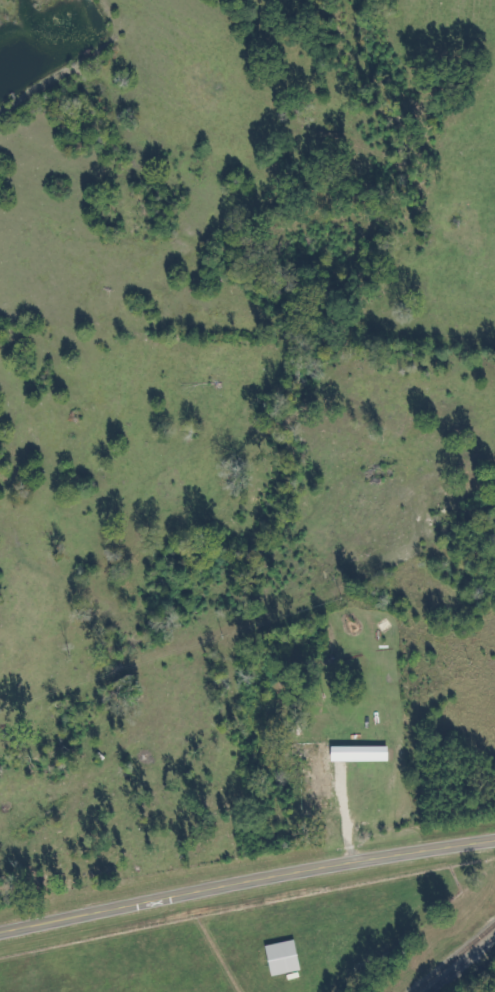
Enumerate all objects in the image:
building: (314, 775)
road: (246, 880)
railway: (452, 956)
railway: (459, 961)

